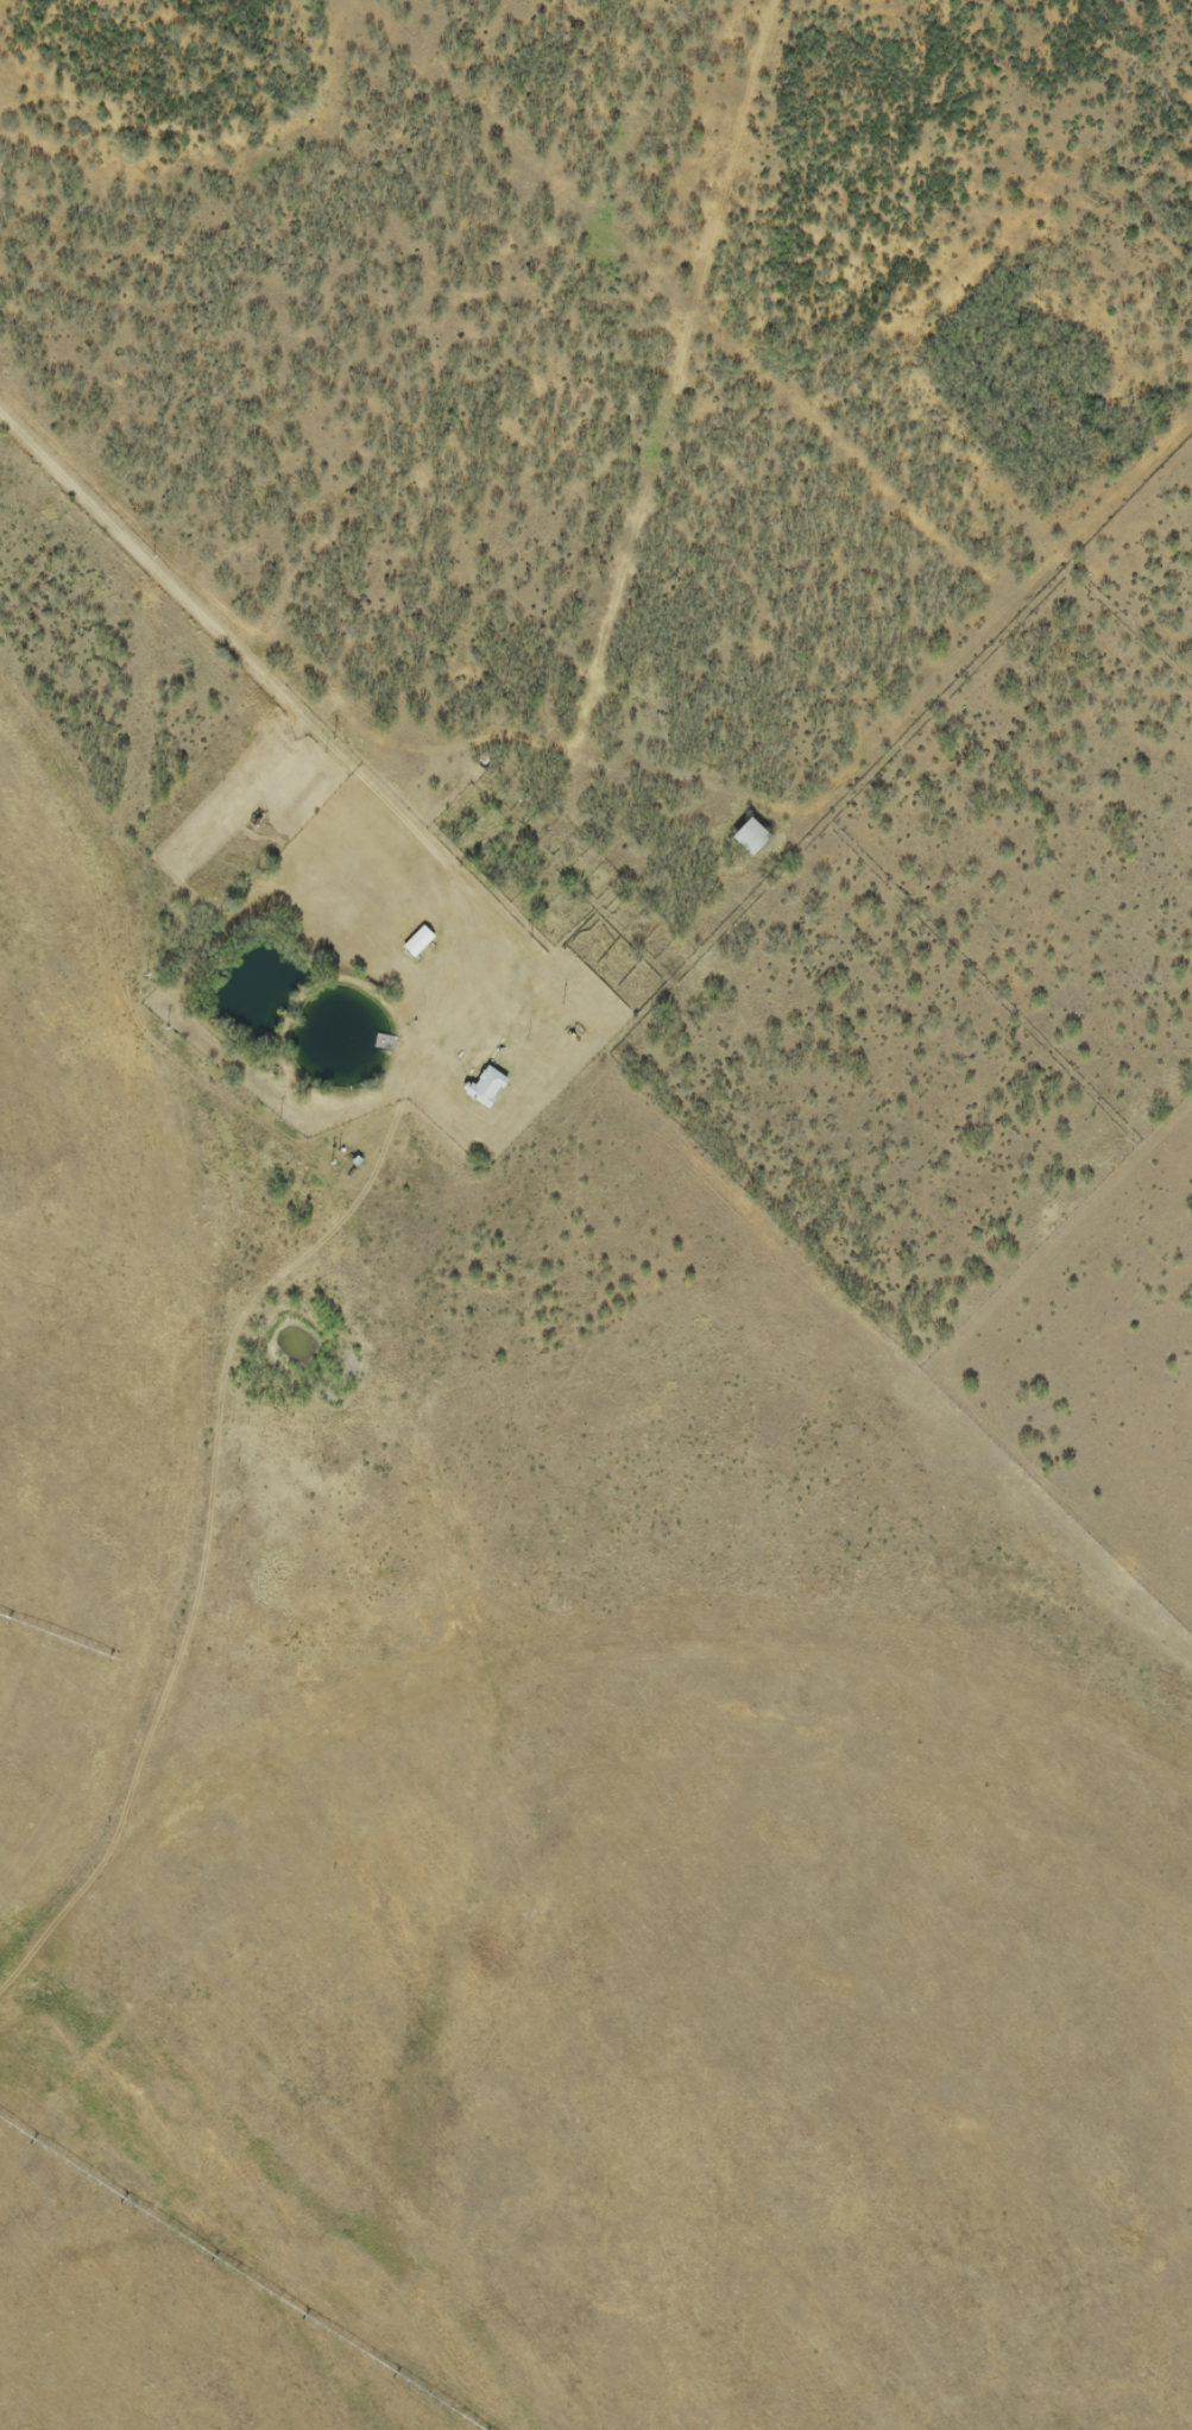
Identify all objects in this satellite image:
road: (1160, 36)
road: (304, 728)
building: (752, 839)
building: (417, 944)

